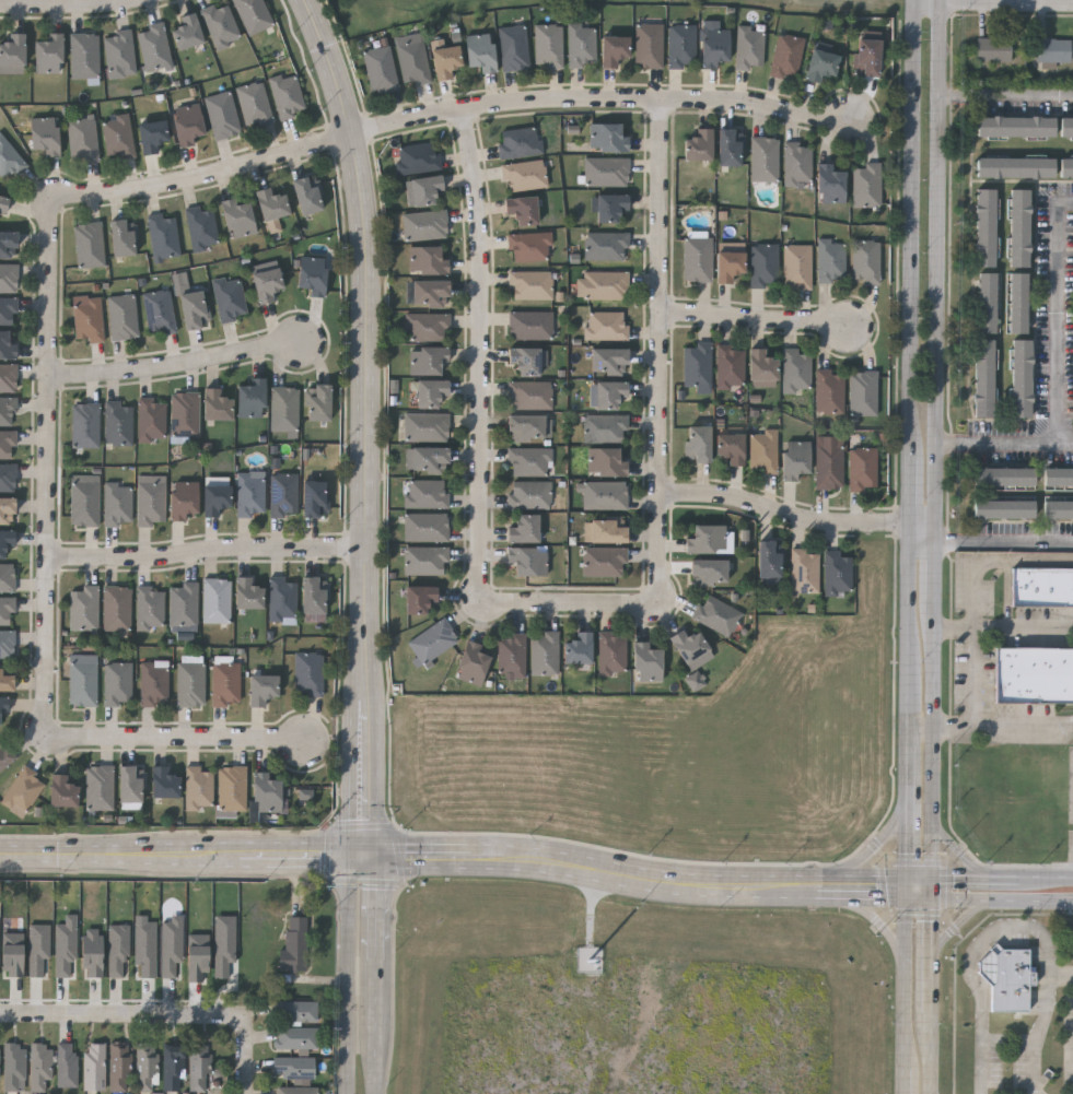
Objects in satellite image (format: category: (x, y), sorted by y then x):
road: (910, 2)
road: (937, 2)
road: (1059, 3)
road: (69, 5)
road: (923, 5)
road: (1004, 5)
building: (253, 15)
building: (220, 24)
building: (186, 32)
building: (580, 45)
building: (649, 45)
building: (680, 45)
building: (154, 46)
building: (547, 46)
building: (712, 47)
building: (512, 48)
building: (749, 49)
building: (1052, 49)
building: (12, 50)
building: (613, 50)
building: (479, 51)
building: (994, 51)
building: (118, 52)
building: (47, 54)
building: (84, 55)
building: (785, 57)
building: (866, 57)
building: (444, 61)
building: (411, 62)
building: (819, 64)
building: (380, 69)
building: (287, 95)
road: (1005, 96)
building: (254, 104)
road: (451, 107)
building: (222, 115)
building: (187, 123)
building: (1016, 125)
building: (1066, 126)
building: (44, 134)
building: (151, 134)
building: (117, 136)
building: (606, 138)
building: (82, 139)
building: (518, 142)
building: (698, 144)
building: (728, 146)
building: (416, 158)
building: (763, 158)
building: (8, 160)
building: (796, 162)
building: (1015, 166)
building: (1066, 167)
building: (606, 172)
building: (524, 175)
building: (865, 185)
building: (830, 186)
building: (424, 190)
building: (305, 196)
building: (3, 204)
building: (270, 204)
building: (609, 207)
building: (521, 210)
building: (237, 219)
building: (424, 225)
building: (984, 226)
building: (1018, 226)
building: (200, 227)
road: (912, 233)
building: (163, 236)
building: (121, 237)
building: (8, 244)
building: (89, 245)
building: (528, 246)
building: (605, 246)
building: (427, 260)
building: (697, 260)
building: (830, 261)
building: (864, 261)
building: (762, 264)
road: (934, 264)
building: (727, 267)
building: (796, 267)
building: (311, 275)
building: (8, 279)
building: (529, 284)
building: (266, 285)
building: (602, 285)
building: (430, 294)
building: (229, 298)
building: (985, 301)
building: (1017, 301)
building: (193, 309)
building: (8, 310)
building: (159, 313)
road: (761, 316)
road: (1055, 316)
building: (121, 317)
building: (88, 320)
building: (529, 324)
building: (606, 326)
building: (427, 327)
building: (7, 346)
road: (667, 349)
road: (481, 350)
building: (427, 358)
building: (524, 361)
building: (608, 361)
road: (177, 362)
building: (697, 364)
building: (730, 366)
building: (761, 367)
building: (795, 370)
building: (982, 376)
building: (1020, 376)
building: (8, 377)
building: (430, 392)
building: (828, 392)
building: (529, 393)
building: (608, 393)
building: (862, 393)
building: (250, 399)
building: (317, 402)
building: (215, 405)
building: (283, 408)
building: (7, 411)
building: (184, 414)
building: (151, 420)
road: (365, 420)
building: (117, 424)
building: (84, 425)
building: (427, 426)
building: (605, 427)
building: (527, 428)
building: (7, 444)
building: (697, 444)
road: (1002, 445)
building: (730, 447)
building: (762, 451)
building: (425, 459)
building: (794, 459)
building: (528, 461)
building: (605, 462)
road: (46, 467)
building: (828, 467)
building: (862, 469)
building: (1004, 474)
building: (1059, 475)
building: (8, 477)
road: (914, 492)
building: (249, 494)
building: (282, 494)
building: (427, 494)
building: (528, 495)
building: (604, 495)
building: (182, 499)
building: (214, 499)
building: (315, 499)
building: (84, 501)
building: (150, 501)
building: (117, 504)
building: (1004, 508)
building: (1059, 508)
building: (7, 509)
road: (791, 511)
road: (923, 524)
building: (425, 528)
building: (523, 529)
building: (605, 531)
building: (707, 540)
building: (5, 541)
road: (205, 543)
road: (1003, 543)
building: (425, 561)
building: (526, 561)
building: (604, 562)
road: (932, 562)
building: (768, 563)
building: (804, 570)
building: (707, 573)
building: (837, 574)
building: (7, 577)
building: (1041, 586)
building: (247, 593)
road: (976, 595)
building: (314, 596)
building: (281, 598)
road: (573, 598)
building: (418, 599)
building: (215, 600)
building: (183, 603)
building: (150, 607)
building: (82, 608)
building: (116, 608)
building: (7, 610)
building: (715, 615)
road: (912, 625)
road: (954, 628)
road: (1024, 630)
building: (432, 640)
building: (7, 643)
building: (578, 649)
building: (690, 649)
building: (611, 652)
building: (544, 654)
building: (511, 656)
building: (645, 662)
building: (471, 663)
building: (307, 673)
building: (1035, 673)
building: (5, 679)
building: (82, 680)
building: (697, 681)
building: (117, 683)
building: (153, 684)
building: (225, 684)
building: (189, 685)
building: (260, 689)
building: (3, 705)
road: (991, 726)
road: (178, 736)
road: (930, 739)
building: (5, 756)
road: (909, 762)
building: (162, 784)
building: (130, 786)
building: (98, 788)
building: (198, 788)
building: (231, 788)
building: (22, 791)
building: (61, 792)
building: (264, 793)
building: (306, 795)
road: (907, 843)
road: (878, 846)
traffic signals: (366, 851)
road: (959, 854)
road: (454, 856)
traffic signals: (933, 877)
road: (1002, 879)
road: (920, 882)
traffic signals: (907, 889)
road: (933, 890)
road: (920, 895)
traffic signals: (933, 903)
road: (382, 904)
road: (1003, 904)
road: (871, 914)
road: (956, 925)
road: (1013, 929)
parking lot: (1071, 942)
building: (295, 943)
building: (67, 945)
building: (173, 945)
building: (225, 945)
building: (147, 946)
building: (39, 949)
building: (118, 951)
building: (93, 952)
building: (14, 955)
building: (199, 957)
road: (931, 958)
road: (351, 968)
road: (907, 976)
road: (1061, 978)
building: (1007, 979)
building: (295, 1011)
road: (124, 1014)
road: (382, 1030)
building: (294, 1037)
parking lot: (1071, 1040)
road: (930, 1055)
road: (247, 1059)
building: (0, 1063)
building: (67, 1064)
building: (39, 1066)
building: (14, 1067)
building: (104, 1067)
building: (144, 1067)
building: (172, 1068)
building: (199, 1068)
building: (293, 1068)
road: (906, 1079)
building: (295, 1091)

